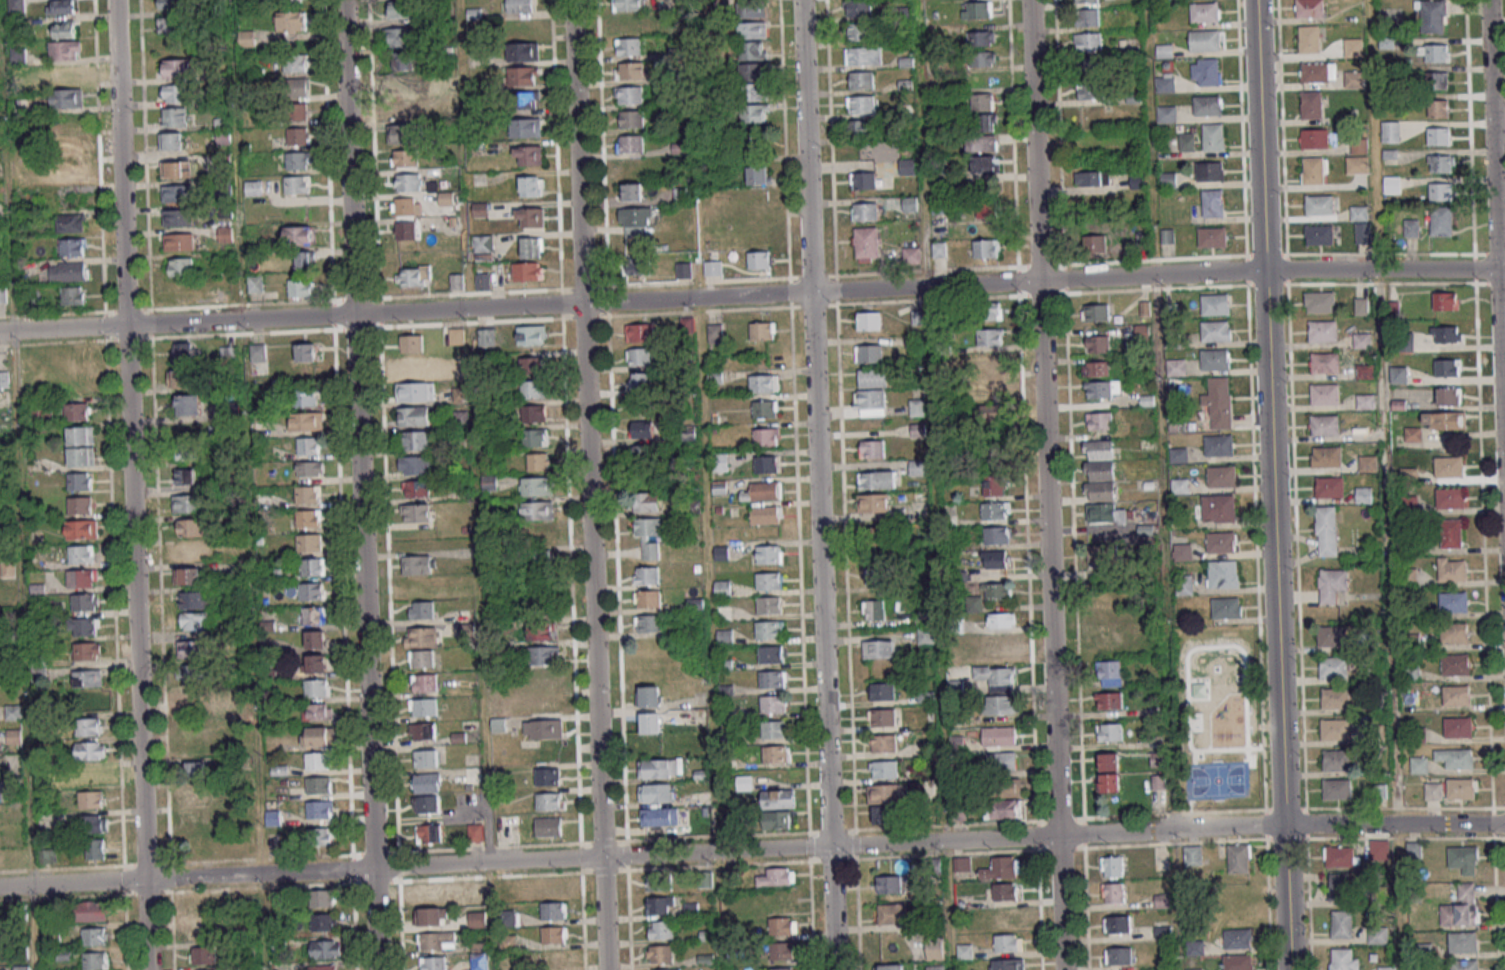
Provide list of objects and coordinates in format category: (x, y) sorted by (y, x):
building: (289, 1)
building: (1086, 1)
building: (170, 4)
building: (627, 5)
building: (16, 6)
building: (520, 6)
building: (61, 7)
building: (861, 8)
building: (1310, 8)
building: (400, 9)
building: (751, 9)
building: (977, 10)
building: (1204, 12)
building: (1432, 16)
building: (1088, 17)
building: (290, 22)
building: (627, 22)
building: (170, 25)
building: (64, 29)
building: (752, 30)
building: (860, 31)
building: (398, 36)
building: (980, 38)
building: (1309, 39)
building: (1204, 40)
building: (1088, 42)
building: (628, 46)
building: (1353, 47)
building: (65, 49)
building: (752, 50)
building: (522, 51)
building: (1163, 51)
building: (1436, 52)
building: (863, 55)
building: (983, 58)
building: (401, 61)
building: (295, 63)
building: (1091, 67)
building: (177, 68)
building: (630, 70)
building: (1205, 72)
building: (66, 73)
building: (1318, 73)
building: (524, 75)
building: (861, 79)
building: (1354, 79)
building: (1438, 80)
building: (409, 82)
building: (752, 82)
building: (1165, 82)
building: (294, 88)
building: (1092, 90)
road: (690, 91)
building: (173, 93)
building: (629, 95)
building: (67, 97)
building: (527, 100)
building: (983, 102)
building: (861, 104)
building: (1208, 105)
building: (1311, 105)
building: (399, 108)
building: (1438, 108)
building: (295, 112)
building: (754, 113)
building: (1166, 114)
building: (175, 117)
building: (631, 119)
building: (985, 122)
building: (526, 127)
building: (860, 128)
building: (1390, 131)
building: (400, 134)
building: (1438, 136)
building: (298, 137)
building: (1213, 137)
building: (1314, 138)
building: (172, 141)
building: (1186, 142)
building: (981, 143)
building: (630, 144)
building: (1359, 144)
building: (75, 146)
building: (878, 151)
building: (528, 155)
building: (404, 158)
building: (297, 160)
building: (1441, 163)
building: (985, 164)
building: (1357, 164)
building: (907, 166)
building: (176, 169)
building: (1314, 170)
building: (1209, 171)
building: (72, 173)
building: (758, 175)
building: (1092, 178)
building: (1168, 179)
building: (863, 180)
building: (407, 181)
building: (297, 184)
building: (1392, 184)
building: (531, 185)
building: (254, 187)
building: (1440, 191)
building: (632, 192)
building: (176, 193)
building: (447, 198)
building: (1213, 203)
building: (909, 204)
building: (1319, 205)
building: (406, 206)
building: (481, 209)
building: (986, 209)
building: (864, 211)
building: (178, 217)
building: (530, 217)
building: (1441, 221)
building: (69, 223)
building: (1361, 223)
building: (1411, 227)
building: (405, 230)
building: (298, 234)
building: (1319, 235)
building: (1212, 237)
road: (1496, 237)
building: (636, 239)
building: (179, 241)
building: (1093, 243)
building: (867, 244)
building: (484, 246)
building: (72, 247)
building: (531, 247)
building: (986, 248)
building: (911, 254)
building: (306, 260)
building: (759, 260)
building: (181, 266)
building: (712, 268)
building: (68, 271)
building: (527, 271)
building: (413, 276)
building: (457, 281)
building: (483, 281)
building: (255, 283)
building: (299, 288)
building: (3, 294)
building: (73, 295)
road: (752, 295)
road: (1265, 295)
building: (1445, 300)
building: (1319, 302)
building: (1216, 304)
building: (1361, 306)
building: (991, 311)
building: (1095, 312)
building: (869, 320)
building: (686, 324)
building: (762, 330)
building: (1216, 330)
building: (1322, 331)
building: (639, 332)
building: (715, 332)
building: (1445, 334)
building: (531, 335)
building: (456, 336)
building: (486, 337)
building: (989, 337)
building: (1362, 340)
building: (411, 343)
building: (1098, 343)
building: (258, 352)
building: (307, 352)
building: (183, 353)
building: (868, 353)
building: (639, 356)
building: (1215, 359)
building: (990, 363)
building: (1324, 363)
building: (531, 365)
building: (412, 367)
building: (1176, 367)
building: (1445, 367)
building: (1096, 368)
building: (1364, 371)
building: (1398, 374)
building: (872, 377)
building: (180, 378)
building: (4, 379)
building: (640, 381)
building: (764, 383)
building: (533, 389)
building: (990, 389)
building: (1102, 389)
building: (414, 391)
building: (1324, 394)
building: (1449, 395)
building: (305, 397)
building: (1365, 401)
building: (869, 402)
building: (1219, 402)
building: (185, 404)
building: (642, 405)
building: (917, 407)
building: (765, 408)
building: (77, 411)
building: (531, 413)
road: (1161, 414)
building: (990, 415)
building: (414, 416)
building: (1444, 420)
building: (306, 421)
building: (1099, 421)
building: (1324, 424)
building: (641, 429)
building: (81, 435)
building: (766, 436)
building: (535, 437)
building: (415, 440)
building: (308, 445)
building: (1219, 445)
building: (872, 449)
building: (1098, 449)
building: (186, 451)
building: (643, 453)
building: (993, 455)
building: (1179, 455)
building: (81, 456)
building: (1326, 456)
building: (538, 461)
building: (1367, 463)
building: (767, 464)
building: (415, 465)
building: (1449, 466)
building: (917, 467)
building: (310, 468)
building: (185, 476)
building: (1221, 476)
building: (876, 480)
building: (80, 481)
building: (1099, 481)
road: (1047, 484)
road: (1386, 484)
road: (18, 485)
road: (132, 485)
road: (360, 485)
road: (588, 485)
road: (817, 485)
road: (934, 485)
building: (536, 486)
building: (994, 486)
building: (1330, 487)
building: (416, 489)
building: (762, 491)
building: (308, 494)
building: (1450, 497)
building: (646, 501)
building: (872, 502)
building: (187, 503)
building: (83, 505)
building: (1218, 509)
building: (537, 510)
building: (995, 510)
building: (416, 513)
building: (1106, 513)
building: (765, 515)
building: (309, 518)
building: (190, 527)
building: (81, 529)
road: (1090, 529)
building: (1326, 531)
building: (1451, 533)
building: (537, 534)
building: (997, 535)
building: (649, 536)
building: (878, 537)
building: (309, 542)
building: (1220, 543)
building: (1182, 553)
building: (81, 554)
building: (769, 554)
building: (1105, 557)
building: (995, 559)
building: (538, 560)
building: (417, 564)
building: (313, 566)
building: (9, 569)
building: (1452, 569)
building: (1223, 573)
building: (189, 575)
building: (646, 575)
building: (875, 575)
building: (81, 577)
building: (768, 581)
building: (1331, 585)
building: (1184, 586)
building: (723, 588)
building: (312, 590)
building: (996, 591)
building: (647, 598)
building: (194, 600)
building: (84, 601)
building: (1453, 601)
building: (974, 603)
building: (768, 605)
building: (1226, 607)
building: (422, 610)
building: (873, 610)
building: (723, 613)
building: (313, 615)
building: (1001, 620)
building: (193, 621)
building: (648, 623)
building: (83, 626)
building: (541, 629)
building: (768, 629)
building: (1455, 633)
road: (709, 634)
building: (1333, 635)
building: (722, 636)
building: (420, 637)
building: (1107, 637)
building: (316, 639)
road: (482, 639)
building: (1000, 644)
building: (879, 648)
building: (191, 649)
building: (87, 651)
building: (770, 654)
building: (544, 655)
building: (421, 659)
building: (317, 663)
building: (1456, 664)
building: (1333, 667)
building: (1411, 672)
building: (192, 673)
building: (1109, 673)
building: (87, 678)
building: (772, 678)
building: (424, 682)
building: (317, 687)
building: (998, 688)
building: (881, 691)
building: (193, 695)
building: (1457, 695)
building: (649, 696)
building: (1335, 698)
building: (1109, 700)
building: (545, 704)
building: (773, 704)
building: (423, 707)
road: (1279, 707)
building: (13, 711)
building: (318, 711)
park: (1217, 715)
building: (881, 717)
building: (649, 722)
building: (88, 726)
building: (1458, 726)
building: (543, 729)
building: (773, 729)
building: (1335, 729)
building: (423, 731)
building: (1109, 732)
building: (14, 736)
building: (320, 736)
building: (999, 736)
building: (883, 743)
building: (90, 750)
building: (777, 754)
building: (426, 758)
building: (1456, 758)
building: (1336, 760)
building: (317, 761)
building: (1001, 761)
building: (1419, 764)
building: (660, 768)
building: (883, 769)
building: (196, 770)
building: (1109, 772)
building: (92, 775)
building: (472, 775)
building: (548, 776)
building: (426, 782)
building: (319, 785)
building: (1004, 788)
building: (1461, 788)
building: (1337, 789)
building: (1433, 791)
building: (656, 793)
building: (887, 793)
building: (195, 794)
building: (778, 798)
building: (91, 799)
building: (548, 801)
building: (425, 804)
building: (320, 809)
building: (1003, 809)
building: (886, 814)
building: (273, 817)
building: (659, 817)
building: (198, 818)
building: (778, 819)
building: (96, 823)
building: (548, 826)
building: (506, 827)
building: (475, 832)
building: (430, 833)
building: (321, 836)
road: (260, 837)
building: (95, 849)
building: (1379, 849)
building: (1414, 849)
road: (752, 850)
building: (1193, 855)
building: (1339, 856)
building: (1238, 858)
building: (1464, 859)
building: (961, 864)
building: (1113, 866)
building: (1000, 868)
building: (777, 877)
building: (660, 882)
building: (889, 884)
building: (1340, 887)
building: (510, 889)
building: (551, 889)
building: (1004, 891)
building: (475, 892)
building: (1113, 892)
building: (431, 894)
road: (1286, 896)
building: (321, 898)
building: (1162, 900)
building: (660, 905)
building: (1461, 907)
building: (553, 910)
building: (92, 911)
building: (891, 913)
building: (431, 916)
building: (509, 917)
building: (477, 919)
building: (324, 921)
building: (1341, 923)
building: (1117, 924)
building: (782, 925)
building: (661, 929)
building: (200, 931)
building: (554, 934)
building: (1377, 935)
building: (95, 936)
building: (1237, 938)
building: (436, 940)
building: (1007, 942)
building: (507, 943)
building: (1463, 943)
building: (1195, 947)
building: (326, 948)
building: (781, 950)
building: (660, 953)
building: (200, 955)
building: (1118, 956)
building: (550, 959)
building: (95, 960)
building: (1343, 960)
building: (479, 961)
building: (1238, 962)
building: (433, 963)
building: (1007, 964)
building: (1464, 965)
building: (323, 967)
building: (891, 967)
building: (21, 968)
building: (783, 968)
building: (936, 968)
building: (1387, 968)
building: (665, 969)

